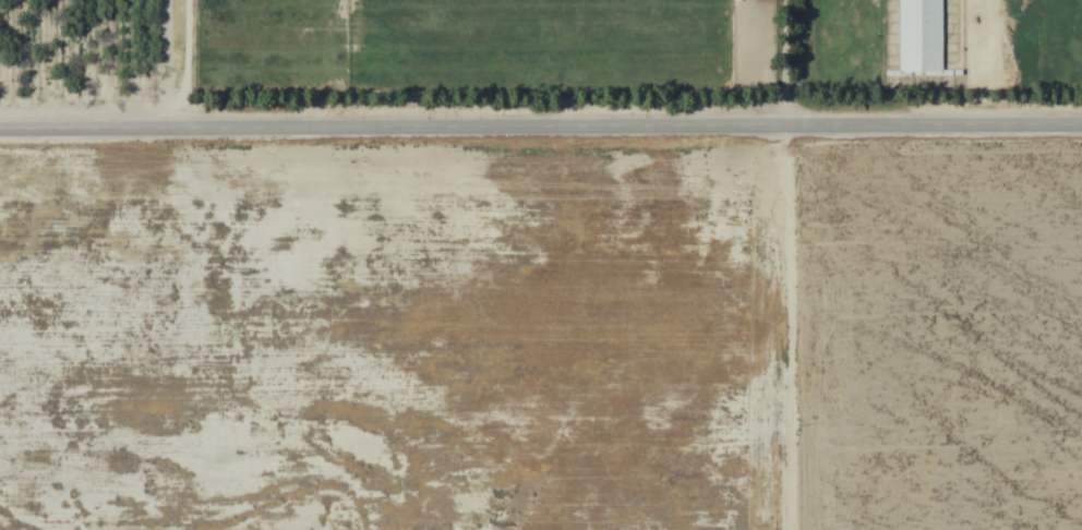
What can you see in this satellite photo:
building: (921, 36)
road: (541, 121)
crop: (541, 265)

